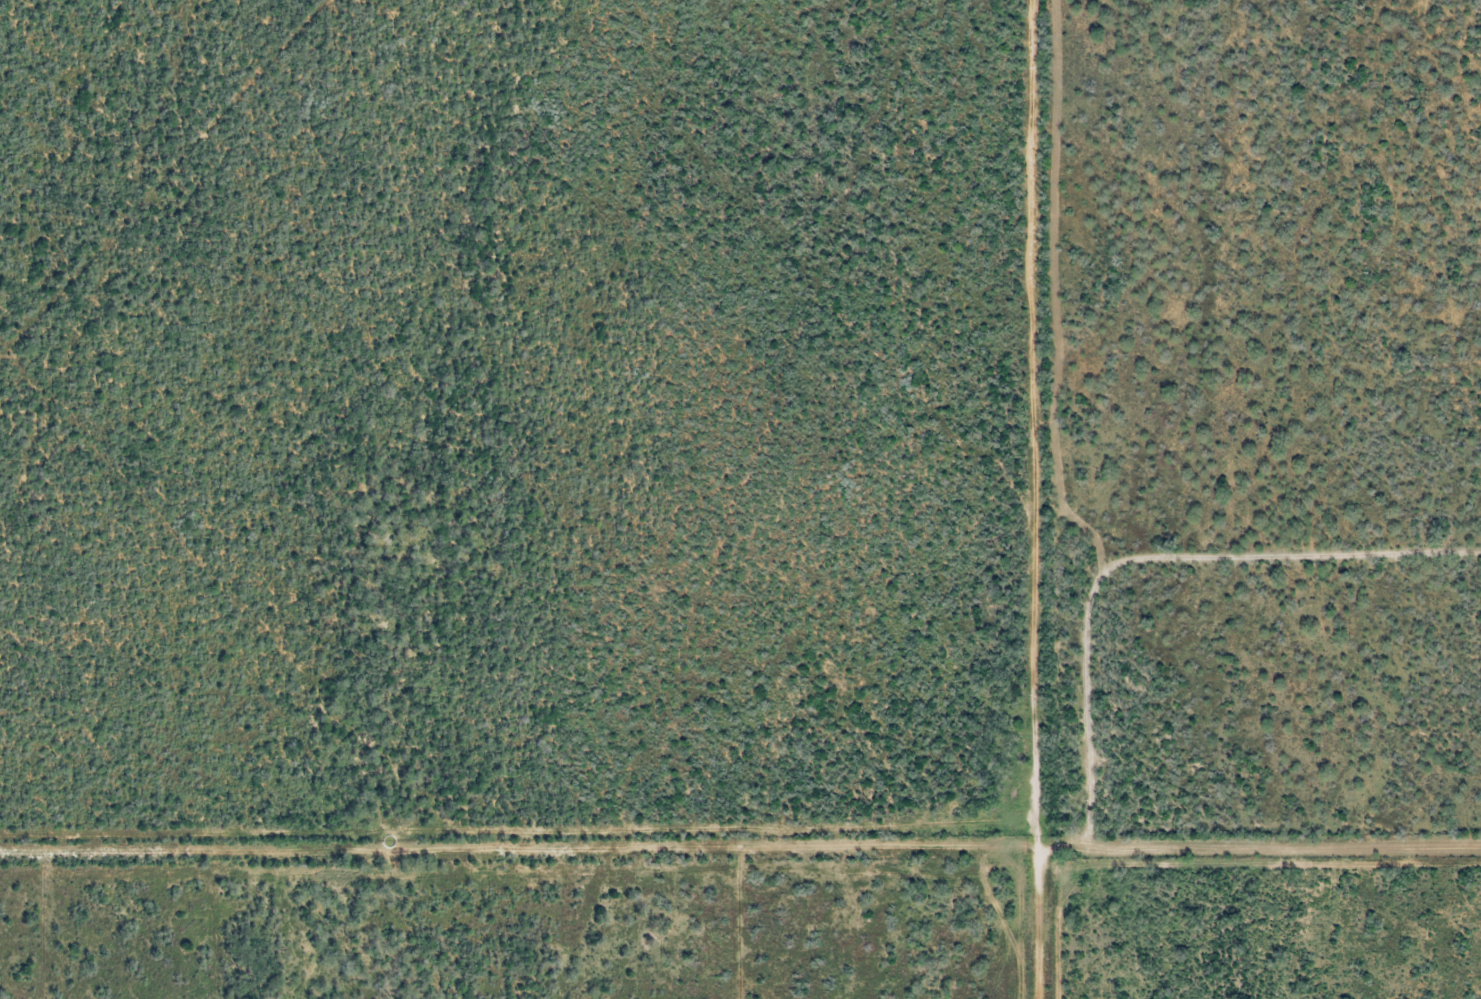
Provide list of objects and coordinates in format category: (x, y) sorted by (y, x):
road: (1039, 925)

